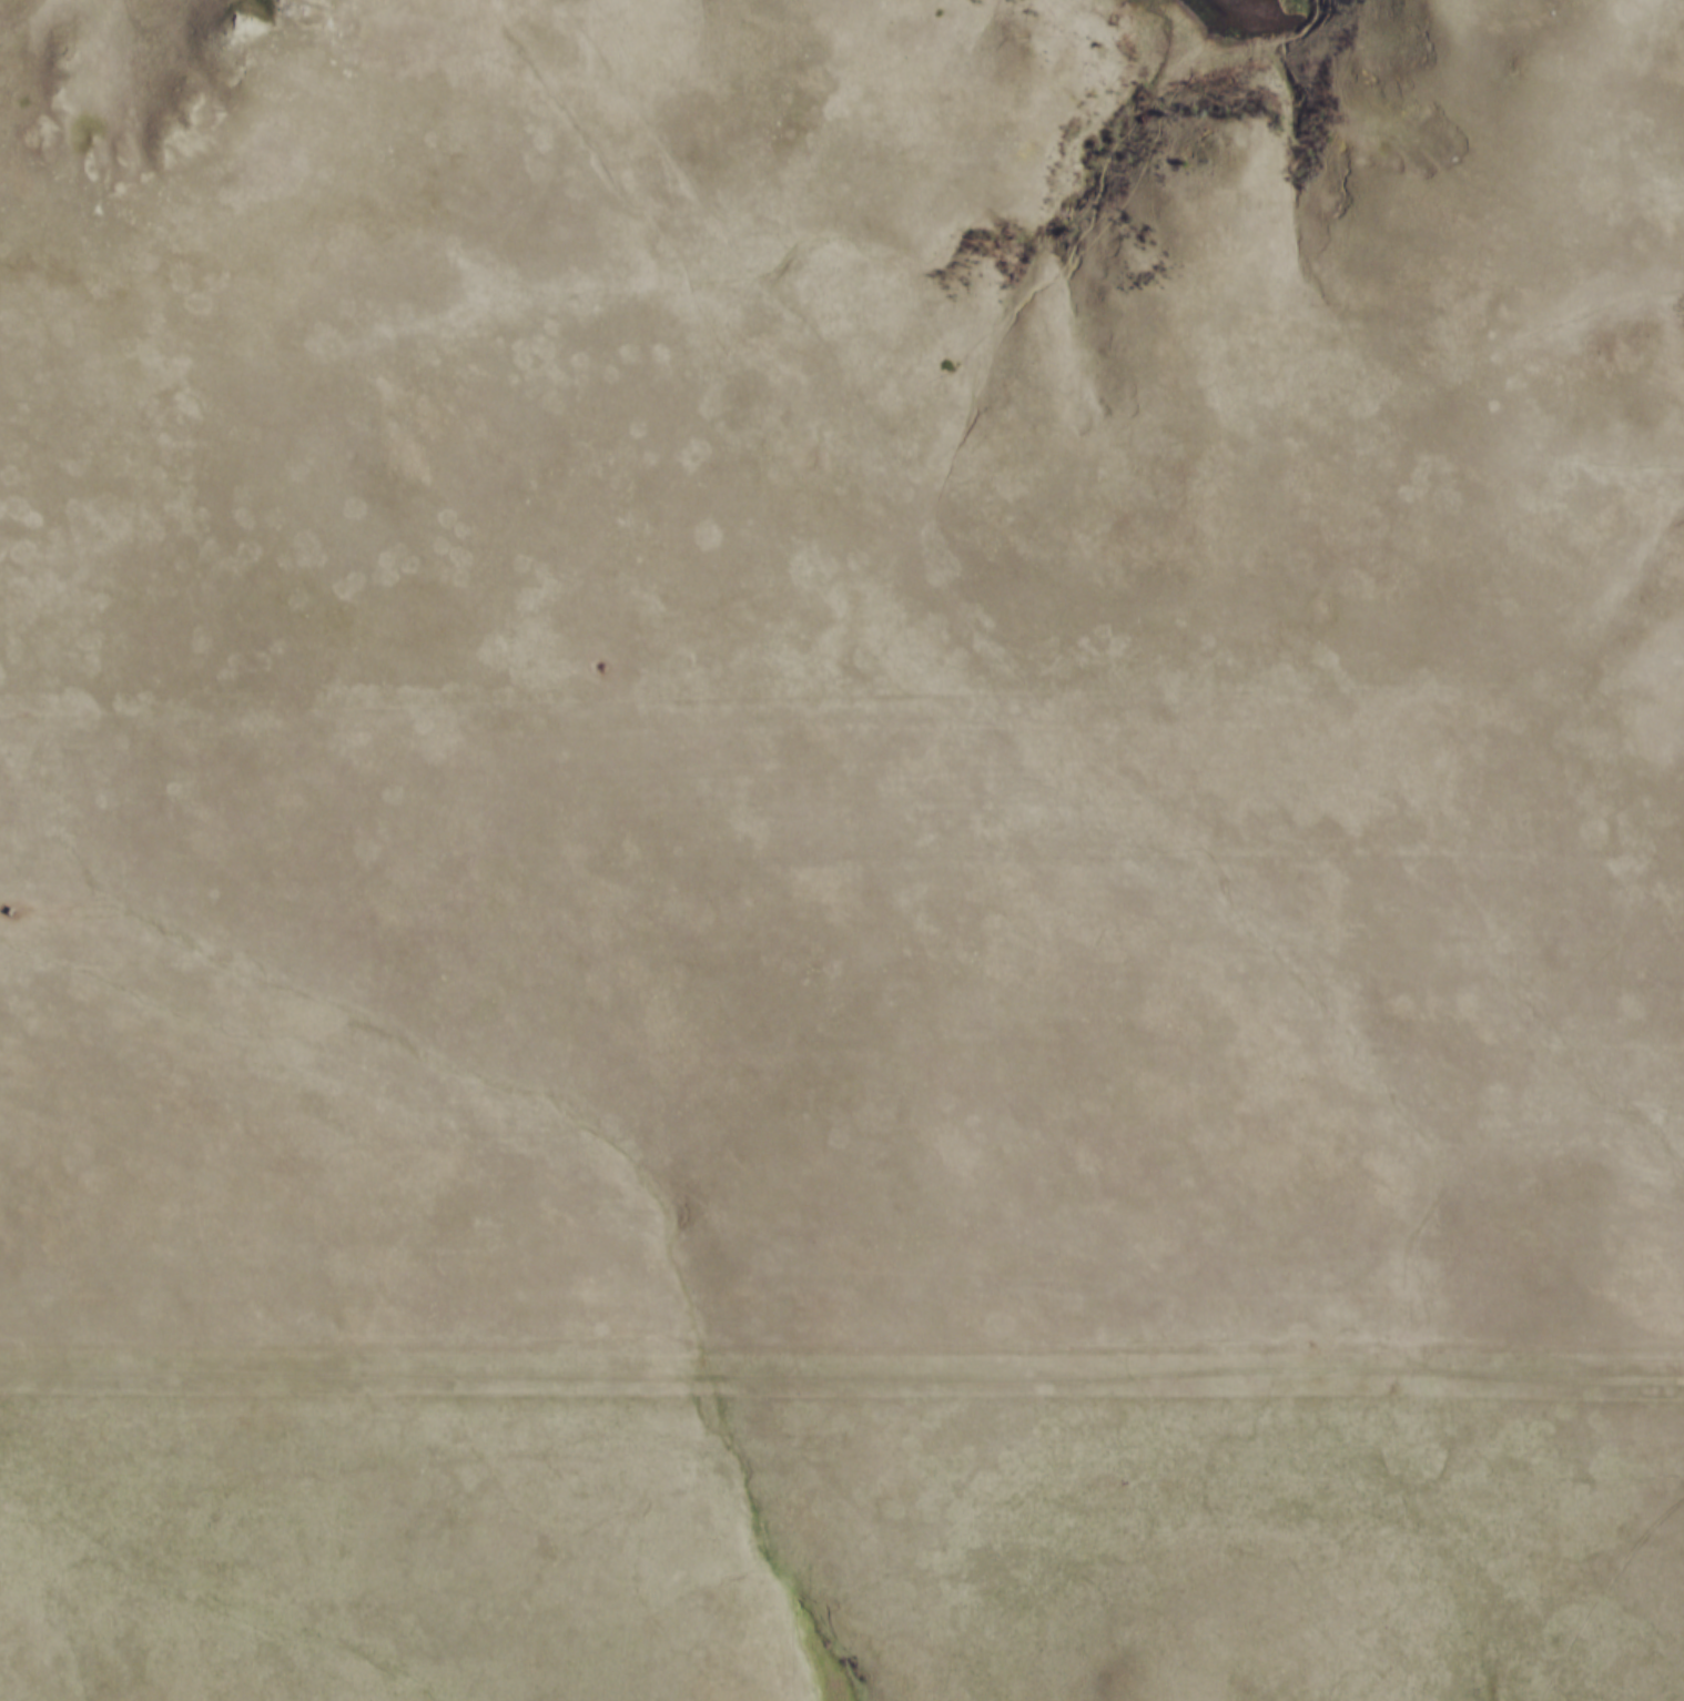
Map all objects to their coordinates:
road: (842, 1376)

